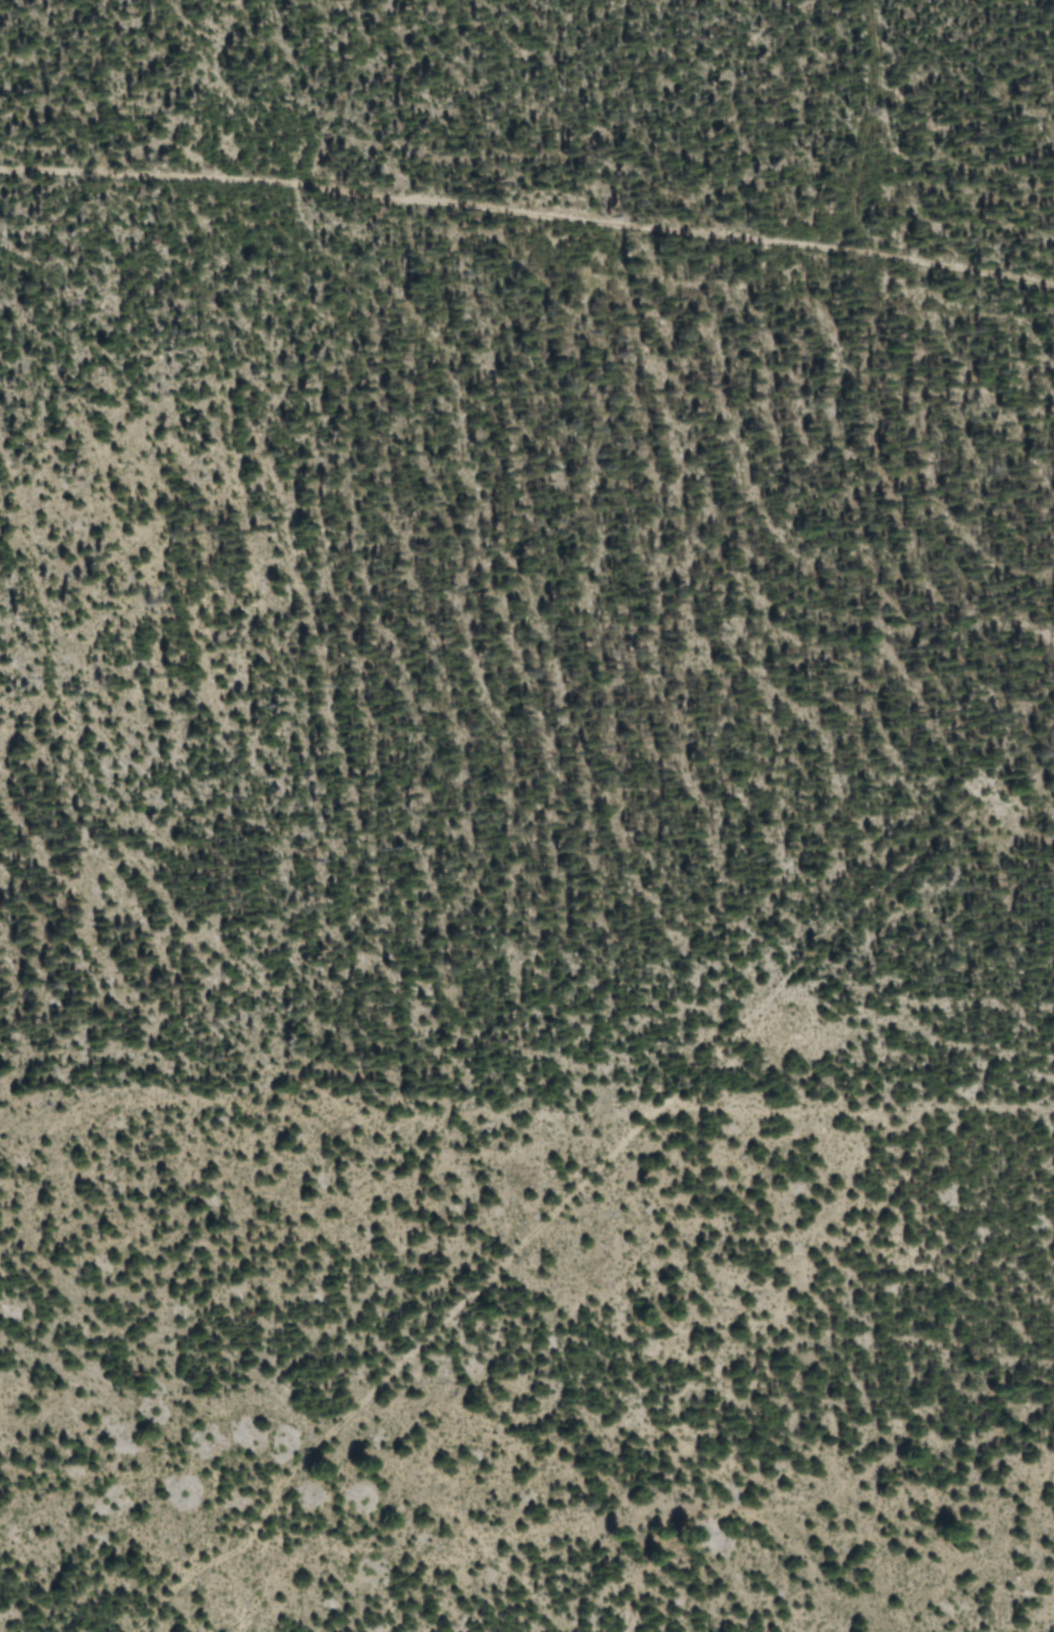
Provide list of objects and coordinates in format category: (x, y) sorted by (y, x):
road: (528, 214)

